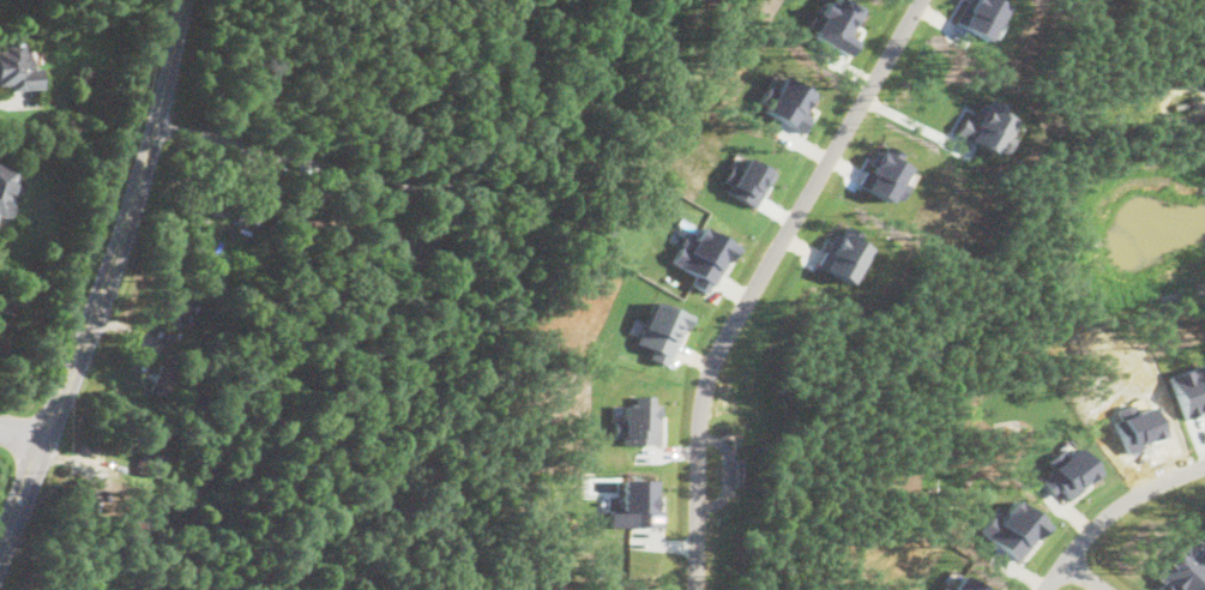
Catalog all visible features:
building: (980, 14)
building: (17, 66)
building: (785, 100)
road: (912, 120)
building: (992, 128)
road: (287, 155)
building: (884, 173)
building: (746, 179)
building: (7, 187)
building: (221, 191)
building: (323, 230)
building: (410, 251)
building: (842, 252)
building: (703, 255)
road: (107, 277)
road: (755, 278)
building: (179, 307)
building: (659, 329)
building: (638, 422)
road: (20, 437)
building: (149, 462)
building: (1067, 469)
building: (634, 502)
road: (1110, 510)
building: (1012, 528)
building: (1182, 567)
road: (1087, 574)
building: (960, 584)

